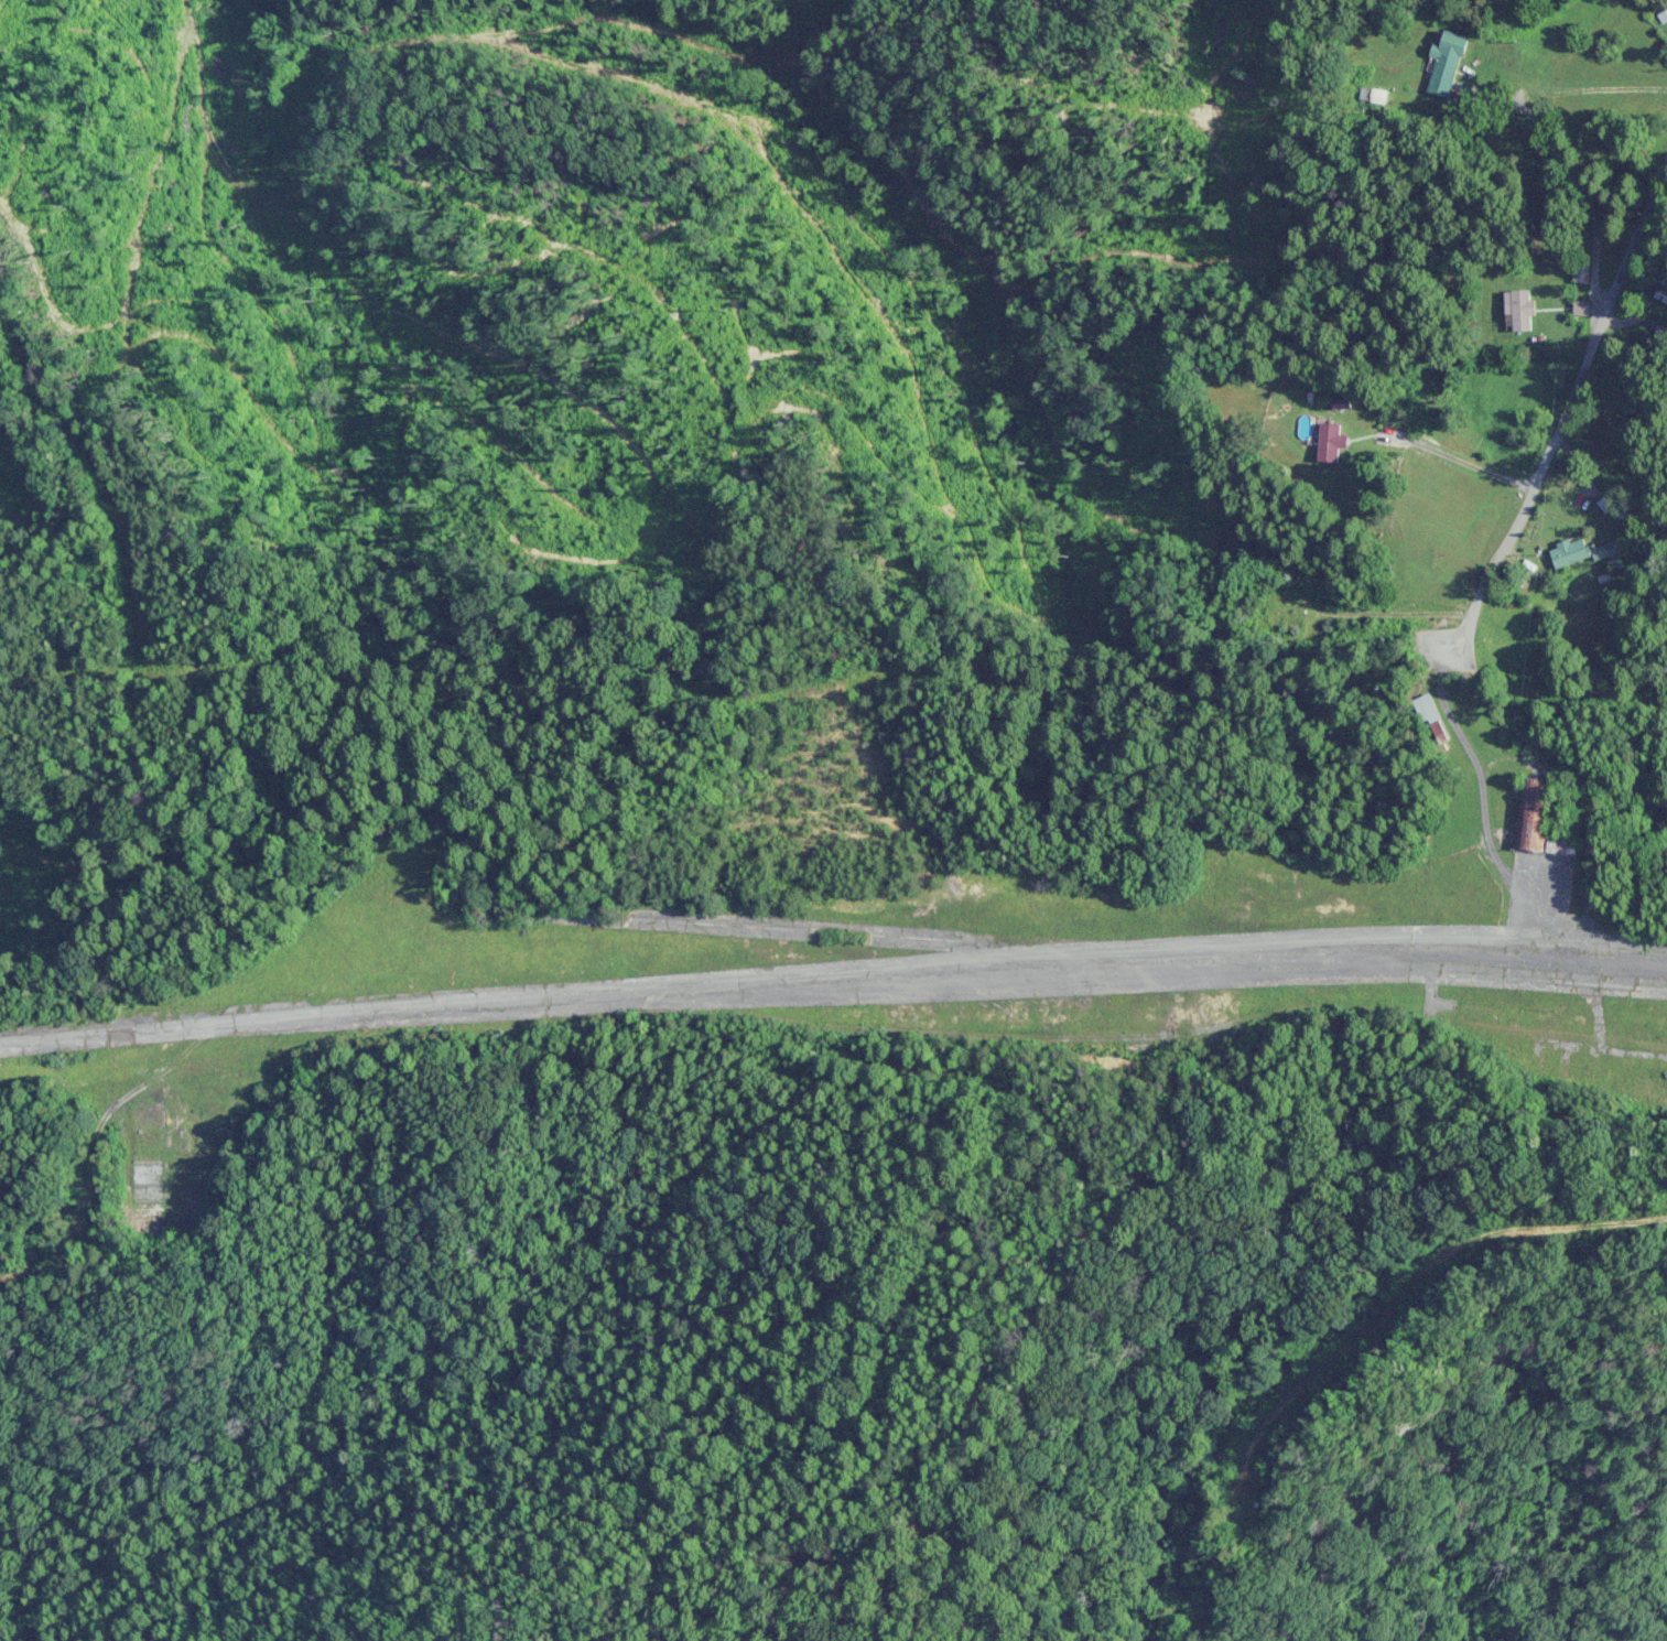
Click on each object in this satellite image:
building: (1448, 63)
road: (1614, 98)
building: (1583, 273)
building: (1663, 293)
building: (1582, 309)
building: (1520, 311)
building: (1309, 429)
building: (1331, 443)
building: (1609, 504)
road: (1489, 520)
building: (1577, 553)
building: (1435, 720)
building: (1535, 813)

